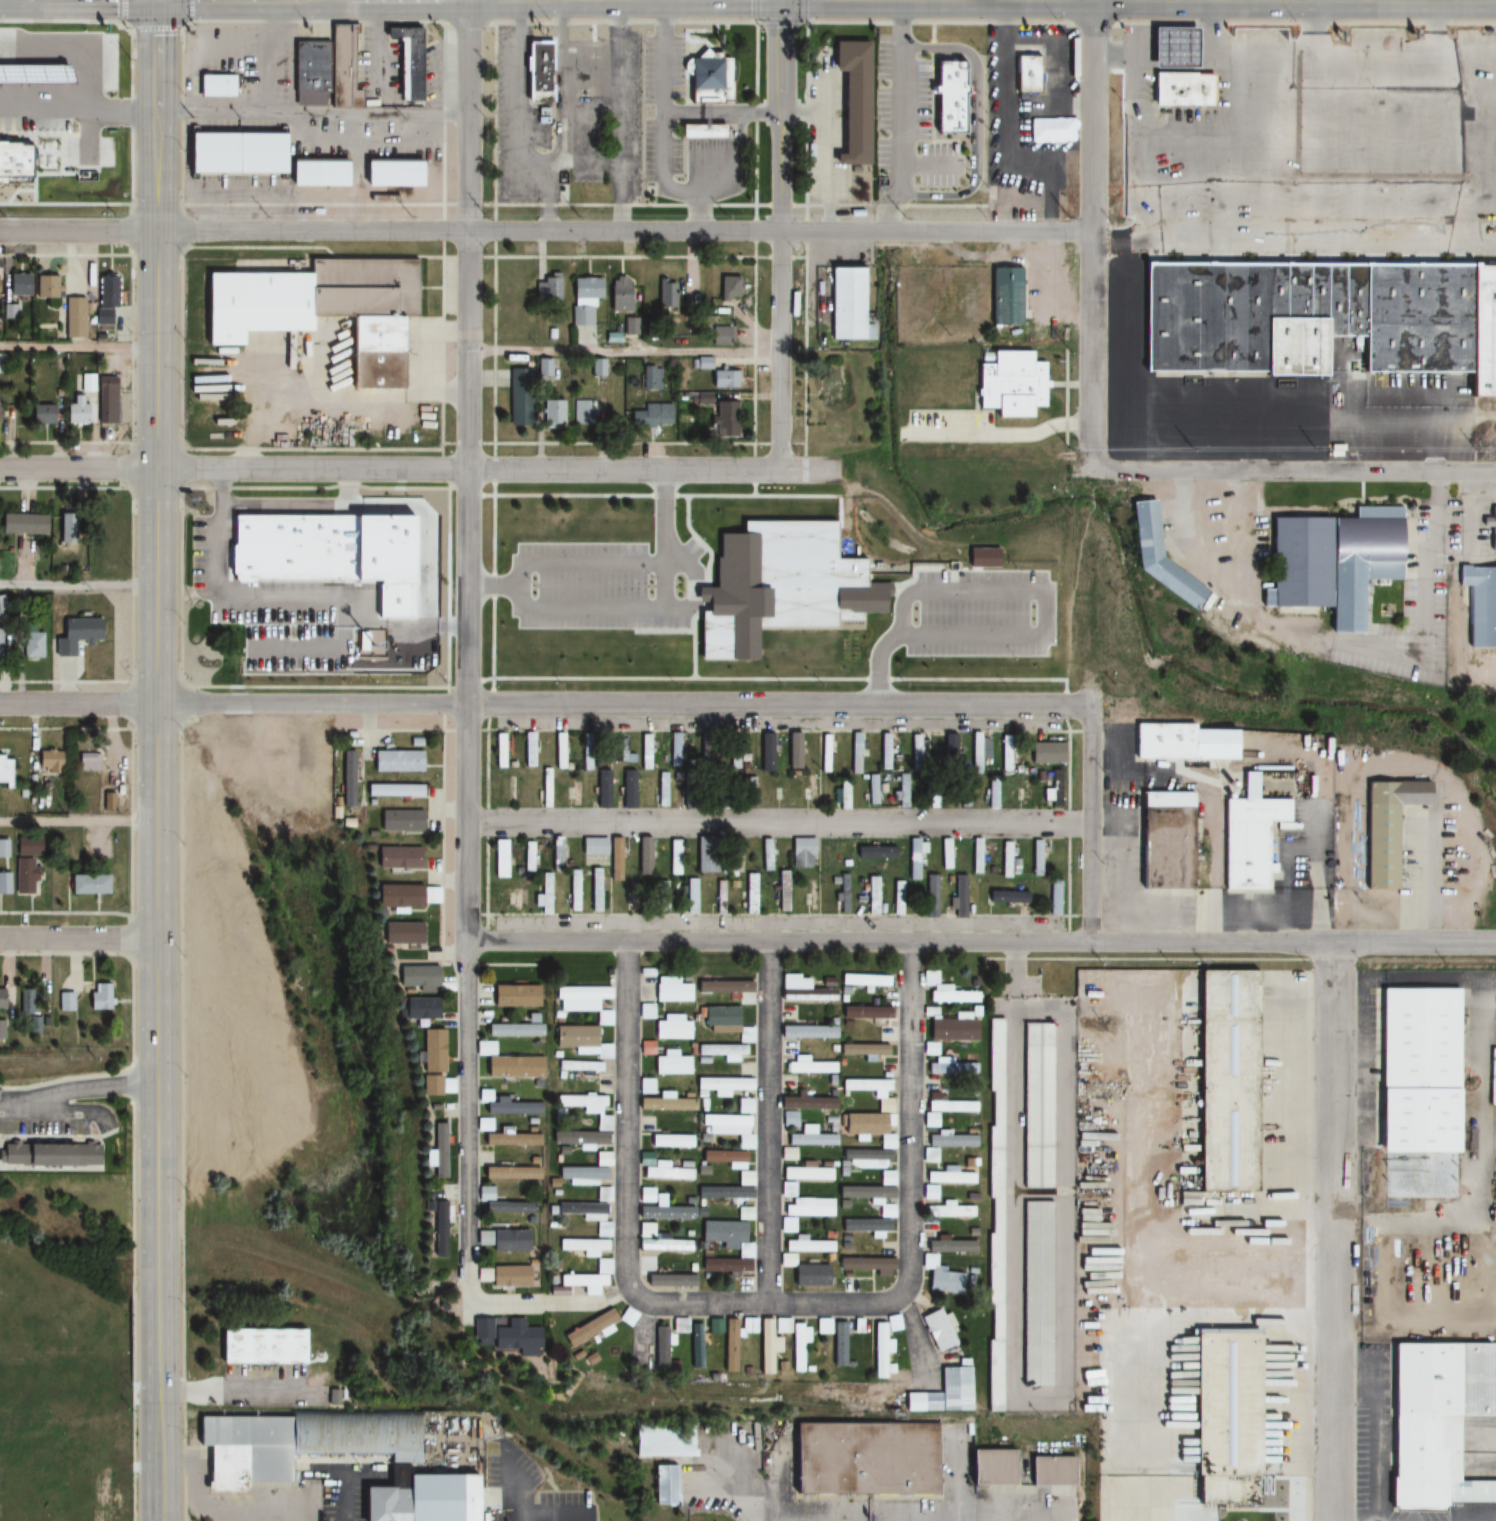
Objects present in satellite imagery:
road: (122, 10)
road: (190, 10)
road: (756, 10)
road: (809, 10)
road: (495, 20)
road: (783, 20)
road: (1305, 22)
road: (156, 28)
building: (45, 41)
building: (1170, 47)
gas station: (1170, 47)
building: (403, 61)
building: (586, 65)
building: (309, 67)
building: (341, 67)
road: (806, 69)
building: (536, 70)
building: (1023, 76)
building: (213, 87)
building: (76, 90)
building: (1180, 90)
building: (703, 91)
building: (951, 98)
building: (850, 100)
parking lot: (662, 108)
road: (131, 114)
road: (233, 114)
road: (901, 116)
road: (663, 127)
building: (74, 130)
building: (231, 153)
building: (22, 161)
building: (393, 173)
building: (319, 174)
building: (71, 194)
road: (431, 203)
power tower: (1058, 219)
road: (546, 230)
road: (1093, 233)
road: (781, 235)
road: (1294, 245)
building: (17, 284)
building: (47, 286)
building: (547, 288)
building: (729, 289)
building: (665, 293)
building: (619, 295)
building: (1004, 296)
building: (583, 299)
building: (105, 300)
building: (845, 302)
building: (315, 306)
building: (1306, 312)
building: (73, 318)
building: (1482, 328)
building: (721, 335)
road: (78, 349)
road: (624, 351)
building: (724, 379)
building: (1009, 384)
building: (828, 395)
building: (518, 397)
building: (701, 399)
building: (104, 408)
building: (75, 411)
building: (584, 412)
building: (552, 413)
building: (39, 414)
building: (651, 415)
building: (724, 420)
power tower: (1057, 451)
road: (419, 469)
road: (467, 470)
road: (1296, 472)
building: (21, 524)
building: (66, 526)
building: (1492, 538)
building: (289, 547)
building: (1158, 556)
building: (1332, 561)
road: (79, 585)
building: (2, 606)
building: (1480, 606)
building: (77, 633)
building: (30, 643)
road: (158, 669)
road: (79, 701)
road: (624, 703)
building: (1184, 743)
building: (619, 749)
building: (528, 750)
building: (673, 750)
building: (917, 750)
building: (498, 751)
building: (559, 751)
building: (794, 751)
building: (884, 751)
building: (947, 751)
building: (979, 751)
building: (1046, 751)
building: (644, 752)
building: (764, 753)
building: (825, 753)
building: (855, 753)
building: (1004, 753)
building: (733, 755)
building: (586, 758)
building: (88, 761)
building: (397, 761)
building: (47, 762)
building: (4, 769)
building: (348, 778)
building: (544, 788)
building: (660, 789)
building: (872, 789)
building: (902, 789)
building: (1051, 789)
building: (393, 791)
building: (574, 791)
building: (811, 791)
building: (1021, 791)
building: (748, 792)
building: (964, 792)
building: (992, 793)
building: (841, 795)
building: (932, 796)
road: (1091, 814)
building: (400, 820)
road: (79, 823)
road: (778, 823)
building: (1386, 828)
building: (1246, 841)
building: (1162, 842)
building: (25, 847)
building: (593, 847)
building: (3, 848)
building: (802, 853)
building: (557, 854)
building: (945, 854)
building: (706, 856)
building: (765, 856)
building: (975, 856)
building: (527, 857)
building: (1035, 857)
building: (397, 858)
building: (499, 859)
building: (615, 859)
building: (1004, 859)
building: (731, 860)
building: (644, 863)
building: (913, 864)
building: (673, 870)
building: (23, 877)
building: (4, 884)
building: (85, 885)
building: (594, 890)
building: (571, 892)
building: (842, 893)
building: (543, 894)
building: (632, 894)
building: (751, 894)
building: (872, 895)
building: (991, 895)
building: (406, 896)
building: (691, 896)
building: (930, 896)
building: (960, 896)
building: (1054, 896)
building: (663, 897)
building: (810, 897)
building: (1022, 897)
building: (507, 898)
building: (897, 898)
building: (782, 902)
building: (400, 934)
road: (79, 939)
road: (778, 943)
road: (1292, 944)
building: (416, 978)
building: (723, 980)
building: (863, 980)
building: (805, 989)
building: (671, 990)
building: (515, 996)
building: (97, 997)
building: (0, 999)
building: (22, 1002)
building: (62, 1002)
building: (582, 1002)
building: (417, 1009)
building: (869, 1019)
building: (725, 1023)
building: (672, 1028)
building: (514, 1031)
building: (582, 1041)
building: (931, 1050)
building: (430, 1051)
building: (722, 1052)
building: (508, 1064)
building: (672, 1065)
building: (580, 1067)
building: (809, 1067)
building: (1414, 1071)
building: (1224, 1080)
building: (723, 1085)
building: (429, 1086)
road: (88, 1088)
building: (882, 1097)
building: (645, 1103)
building: (505, 1105)
building: (744, 1105)
building: (1037, 1106)
building: (803, 1107)
building: (584, 1109)
building: (945, 1110)
road: (1332, 1110)
road: (58, 1115)
building: (483, 1124)
road: (769, 1124)
building: (867, 1127)
building: (728, 1128)
building: (810, 1137)
building: (578, 1139)
building: (511, 1140)
building: (671, 1142)
building: (995, 1142)
building: (436, 1151)
building: (48, 1153)
building: (788, 1154)
building: (667, 1171)
building: (511, 1173)
building: (805, 1174)
building: (582, 1175)
building: (744, 1178)
building: (886, 1179)
building: (942, 1180)
road: (626, 1187)
road: (911, 1188)
building: (603, 1194)
building: (647, 1194)
road: (466, 1203)
building: (508, 1207)
building: (800, 1208)
building: (946, 1210)
building: (581, 1211)
building: (744, 1213)
building: (866, 1227)
building: (436, 1229)
building: (602, 1229)
building: (725, 1234)
building: (509, 1241)
building: (659, 1241)
building: (581, 1245)
building: (787, 1259)
building: (929, 1261)
building: (874, 1266)
building: (722, 1268)
building: (509, 1277)
building: (594, 1278)
building: (670, 1280)
building: (1036, 1294)
building: (625, 1317)
building: (892, 1324)
building: (678, 1326)
building: (857, 1327)
building: (748, 1328)
building: (585, 1329)
building: (936, 1331)
building: (502, 1335)
building: (833, 1339)
building: (992, 1341)
building: (793, 1344)
building: (258, 1347)
building: (658, 1348)
building: (764, 1348)
building: (728, 1350)
building: (878, 1352)
building: (693, 1364)
parking lot: (263, 1385)
building: (942, 1391)
road: (1040, 1396)
road: (1332, 1398)
building: (1237, 1409)
building: (1444, 1418)
road: (159, 1430)
building: (659, 1442)
building: (295, 1444)
building: (875, 1455)
building: (1000, 1464)
building: (1058, 1468)
building: (661, 1486)
building: (429, 1496)

